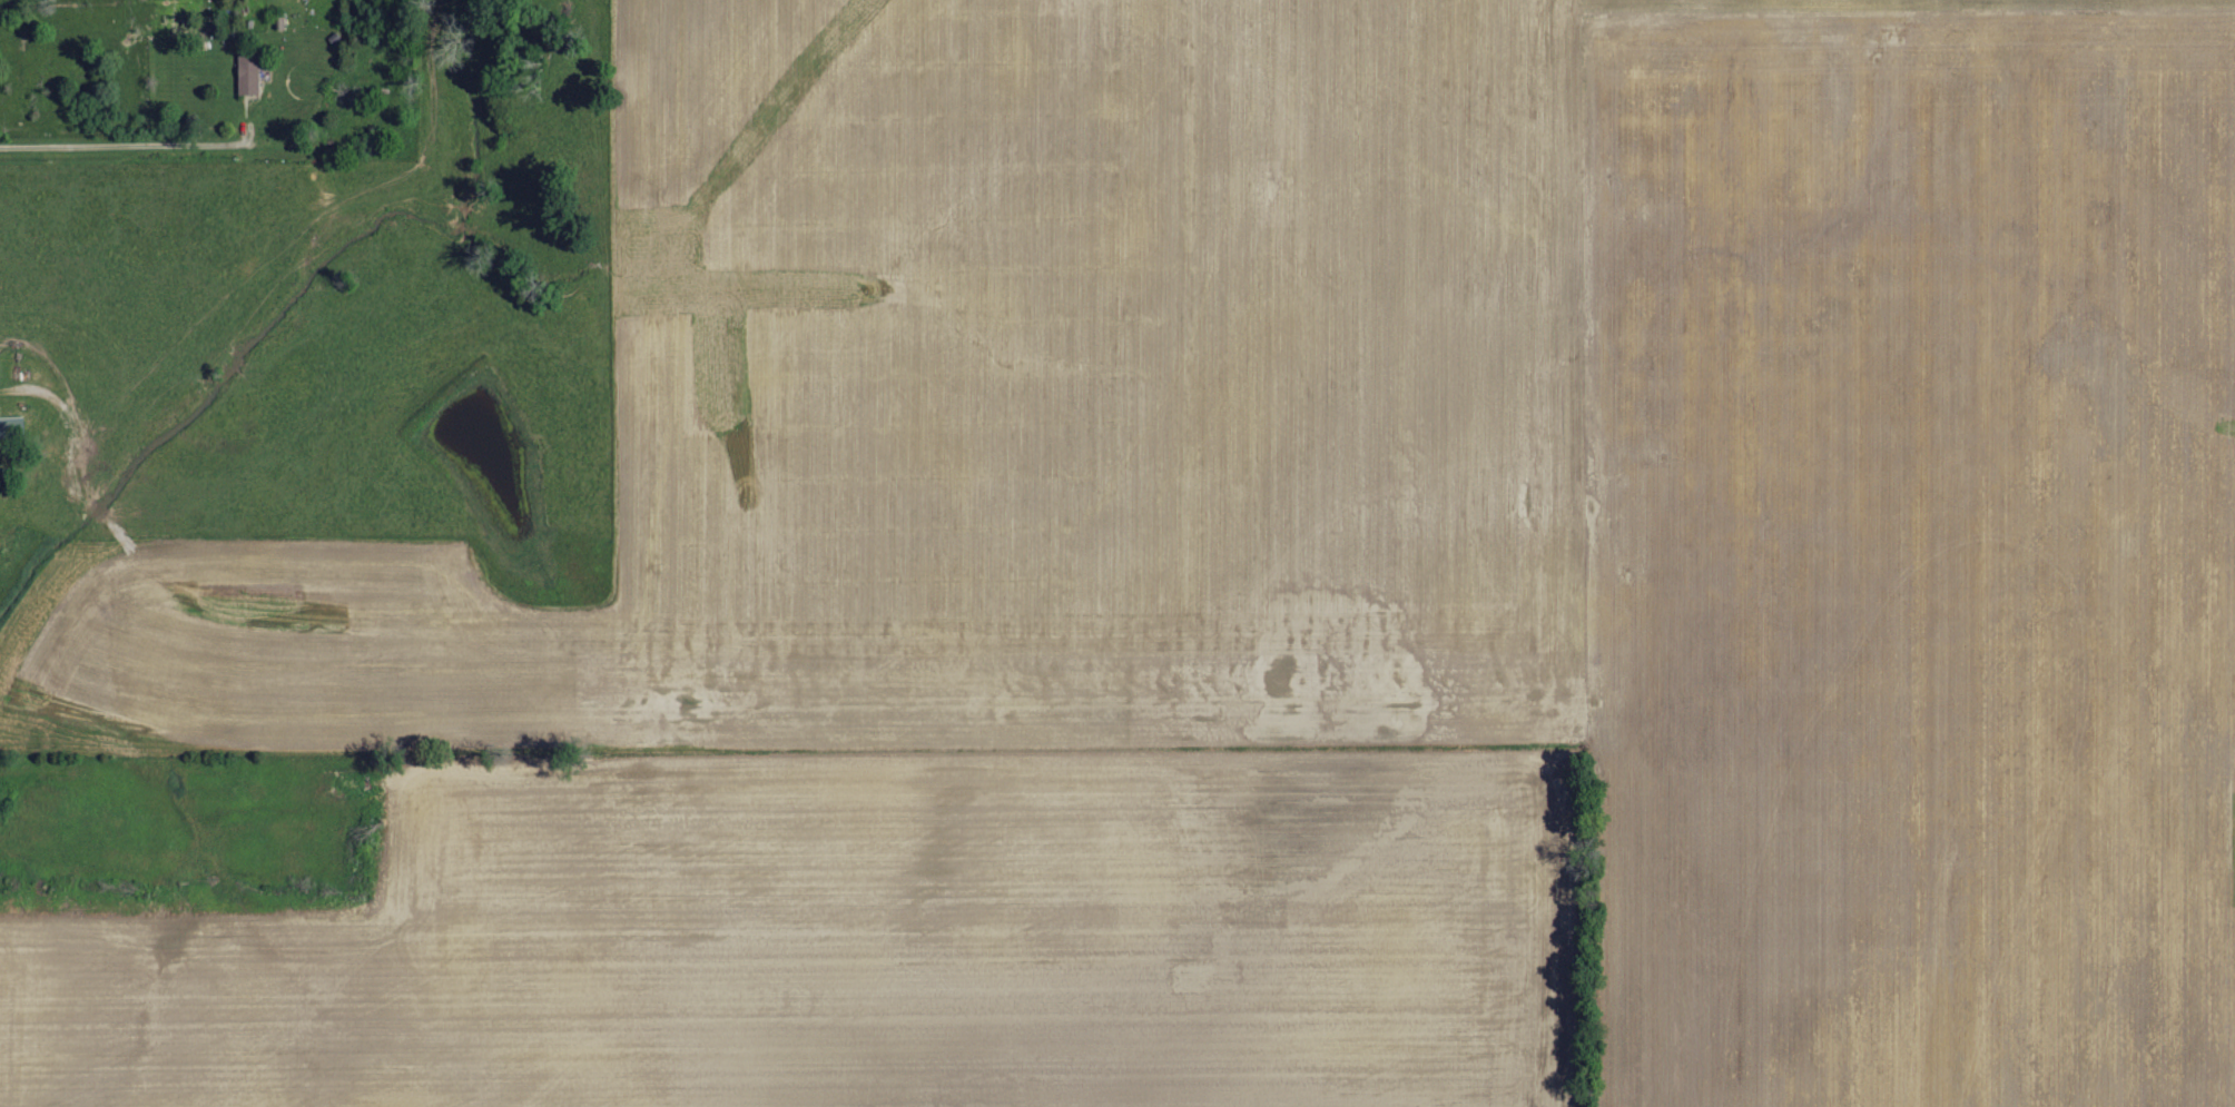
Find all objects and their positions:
building: (248, 73)
building: (13, 428)
crop: (1422, 475)
crop: (864, 938)

